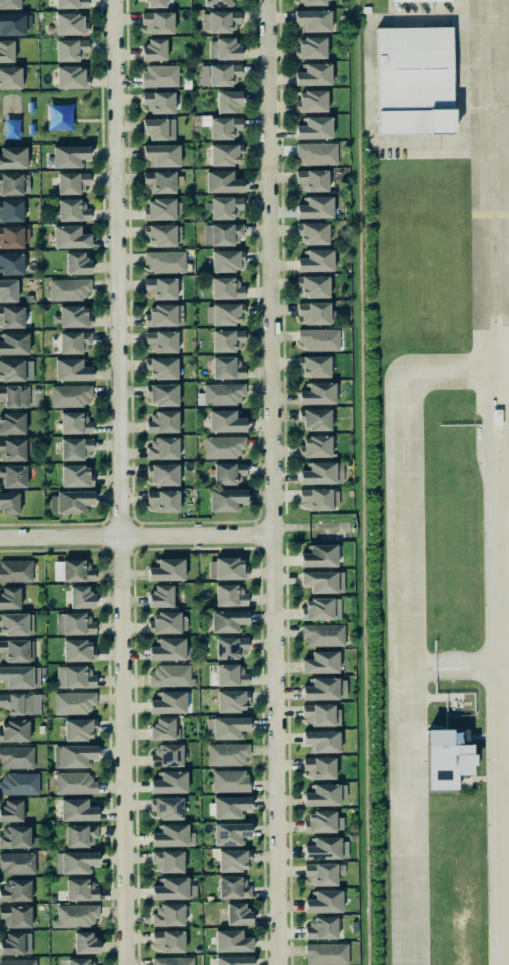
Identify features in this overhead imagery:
building: (407, 0)
building: (313, 2)
building: (71, 3)
building: (154, 3)
building: (216, 3)
building: (10, 4)
building: (364, 9)
building: (312, 20)
building: (219, 21)
building: (158, 22)
building: (14, 23)
building: (70, 24)
building: (310, 47)
building: (223, 48)
building: (70, 49)
building: (154, 49)
building: (6, 50)
building: (219, 74)
building: (314, 74)
building: (160, 75)
building: (10, 77)
building: (71, 77)
building: (410, 79)
building: (228, 100)
building: (158, 101)
building: (311, 101)
road: (101, 102)
airport taxiway: (500, 103)
road: (500, 103)
park: (52, 115)
road: (1, 118)
road: (86, 119)
building: (224, 127)
building: (314, 127)
building: (159, 128)
road: (101, 133)
building: (224, 153)
building: (316, 153)
building: (162, 154)
building: (69, 155)
building: (13, 157)
building: (312, 180)
building: (159, 181)
building: (222, 181)
building: (72, 182)
building: (14, 183)
airport taxiway: (492, 201)
road: (492, 201)
building: (225, 206)
building: (315, 207)
building: (72, 209)
building: (159, 209)
building: (10, 210)
building: (313, 233)
building: (221, 234)
building: (160, 235)
building: (11, 236)
building: (70, 236)
building: (226, 260)
building: (315, 260)
building: (165, 261)
building: (11, 262)
building: (76, 263)
building: (313, 286)
building: (161, 287)
building: (226, 287)
building: (68, 288)
building: (8, 290)
building: (224, 313)
building: (316, 313)
building: (164, 315)
building: (11, 316)
building: (74, 316)
airport taxiway: (501, 319)
road: (501, 319)
building: (319, 338)
building: (227, 340)
building: (161, 341)
building: (74, 342)
building: (14, 343)
building: (314, 366)
building: (161, 367)
building: (227, 367)
building: (16, 369)
building: (71, 369)
building: (221, 393)
building: (317, 393)
building: (163, 394)
building: (14, 395)
building: (70, 395)
road: (495, 407)
building: (315, 419)
building: (162, 421)
building: (225, 421)
building: (74, 422)
building: (12, 423)
building: (223, 446)
building: (315, 446)
building: (162, 447)
building: (75, 448)
building: (12, 449)
building: (228, 472)
building: (163, 473)
building: (322, 473)
building: (76, 475)
building: (12, 476)
airport: (435, 476)
road: (119, 482)
road: (271, 482)
building: (319, 498)
building: (225, 499)
building: (163, 500)
building: (69, 501)
building: (9, 502)
road: (135, 537)
road: (497, 538)
building: (319, 555)
building: (226, 567)
building: (166, 569)
building: (15, 570)
building: (76, 570)
building: (323, 581)
building: (229, 595)
building: (81, 596)
building: (160, 596)
building: (9, 597)
building: (321, 608)
building: (227, 620)
building: (167, 622)
building: (74, 623)
building: (16, 624)
airport taxiway: (404, 624)
road: (404, 624)
building: (323, 634)
building: (230, 647)
building: (78, 649)
building: (169, 649)
building: (16, 650)
building: (321, 662)
road: (504, 664)
building: (231, 674)
building: (171, 675)
building: (20, 676)
building: (74, 676)
building: (325, 688)
building: (231, 700)
building: (73, 702)
building: (168, 702)
building: (20, 703)
building: (322, 714)
building: (226, 726)
building: (78, 728)
building: (163, 729)
building: (14, 730)
building: (321, 740)
building: (227, 754)
building: (73, 755)
building: (166, 755)
building: (16, 757)
building: (441, 761)
building: (319, 767)
building: (230, 780)
building: (169, 782)
building: (19, 783)
building: (74, 783)
building: (324, 794)
building: (229, 806)
building: (167, 808)
building: (77, 809)
building: (11, 810)
road: (500, 814)
building: (322, 821)
building: (230, 833)
building: (79, 835)
building: (172, 835)
building: (17, 837)
building: (326, 848)
building: (233, 859)
building: (167, 860)
building: (75, 861)
building: (17, 863)
building: (322, 872)
building: (233, 887)
building: (173, 888)
building: (80, 889)
building: (14, 890)
building: (323, 901)
building: (168, 914)
building: (237, 914)
building: (15, 915)
building: (75, 915)
building: (321, 927)
building: (231, 940)
building: (168, 941)
building: (85, 942)
building: (16, 943)
building: (326, 953)
building: (173, 960)
building: (233, 960)
building: (18, 961)

